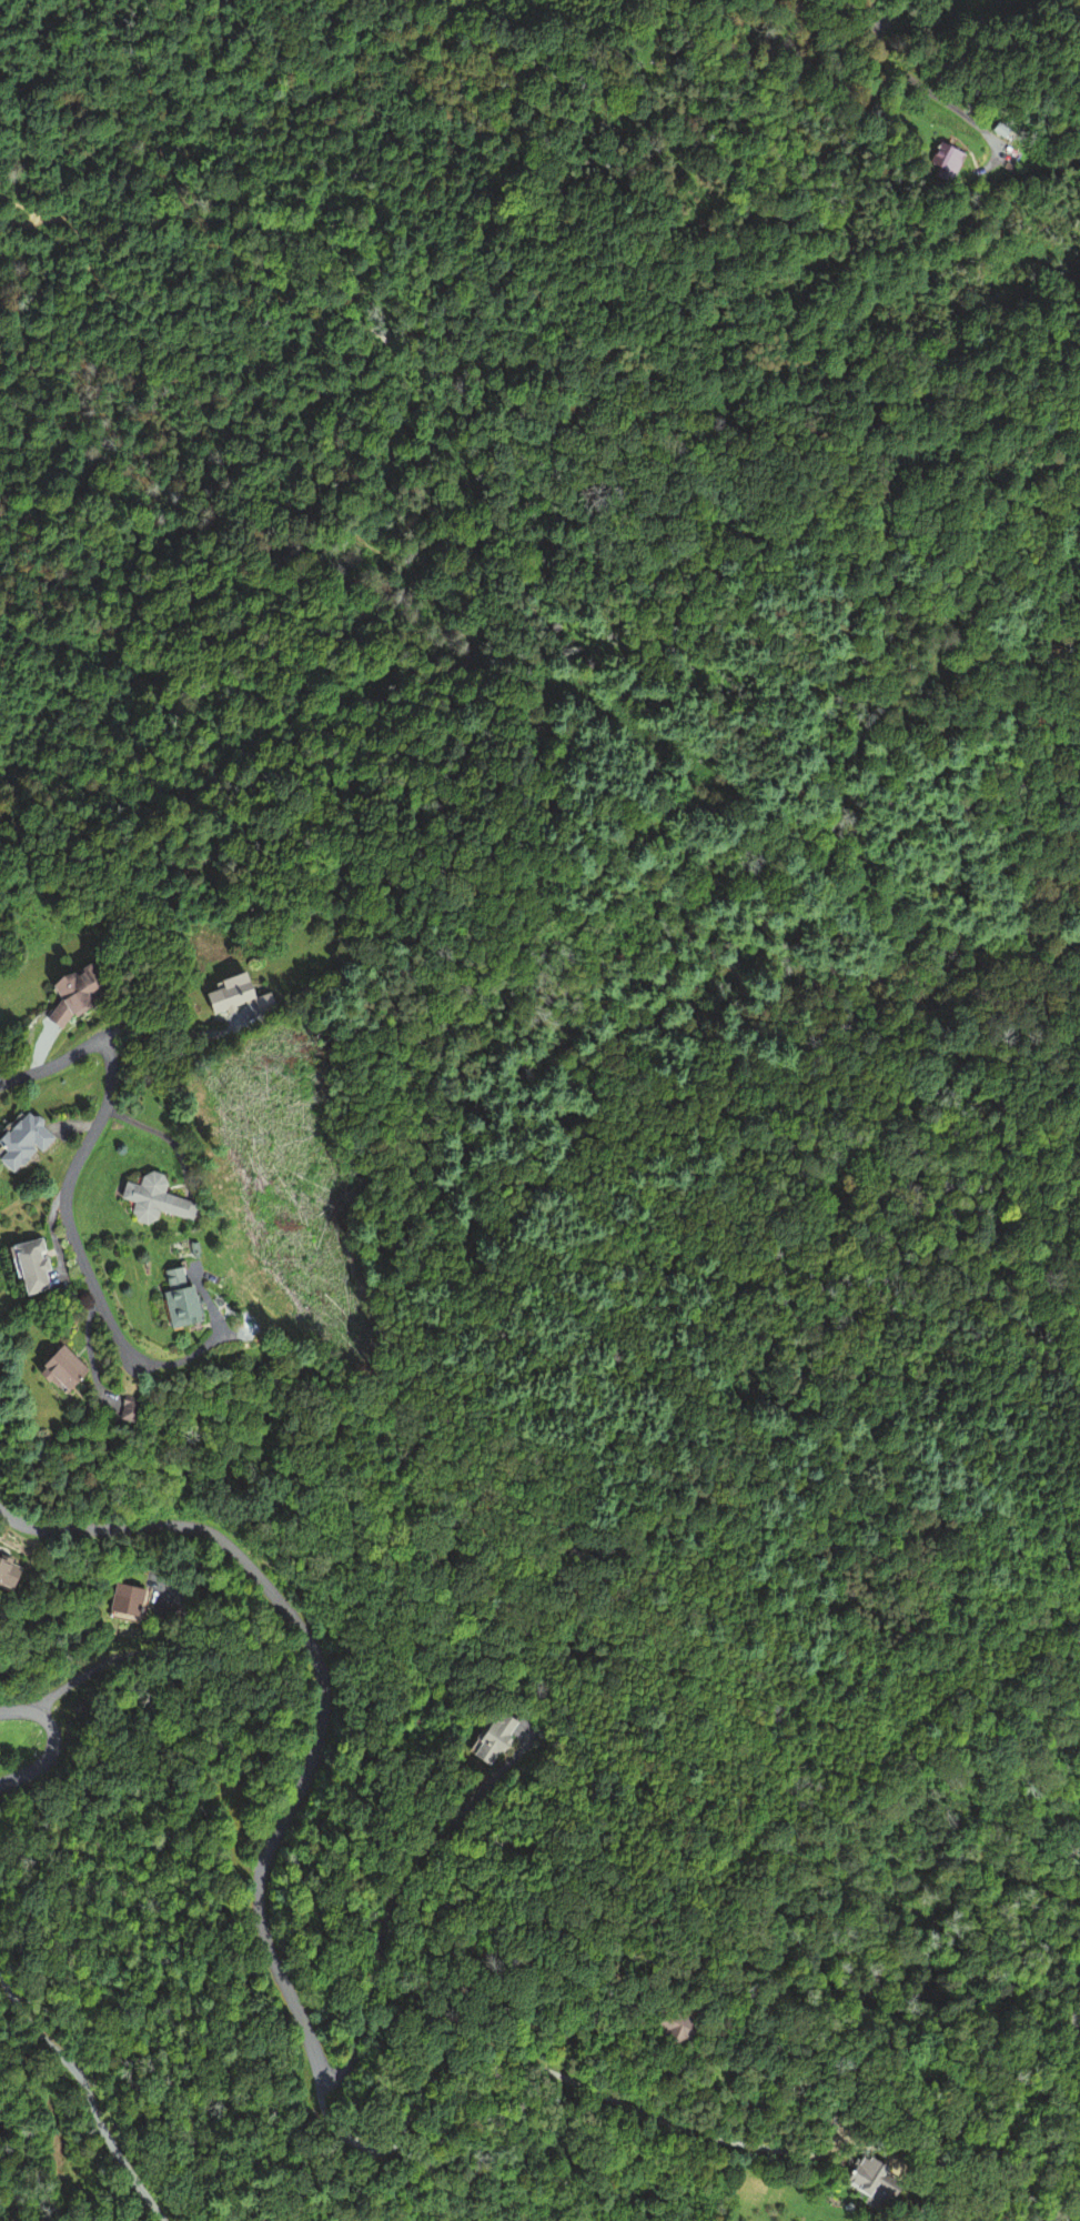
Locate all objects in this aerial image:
road: (869, 13)
road: (925, 88)
building: (995, 129)
building: (940, 161)
building: (75, 993)
building: (234, 997)
road: (163, 1135)
building: (24, 1140)
road: (80, 1155)
building: (154, 1198)
building: (31, 1267)
building: (173, 1298)
building: (55, 1367)
building: (118, 1406)
building: (120, 1597)
road: (322, 1698)
building: (493, 1738)
road: (52, 1741)
building: (673, 2030)
road: (87, 2092)
building: (861, 2180)

